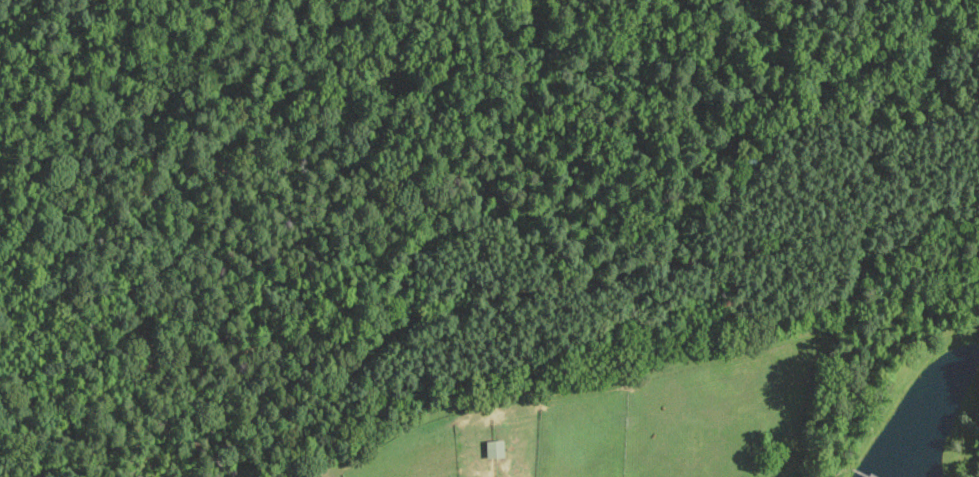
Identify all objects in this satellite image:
building: (493, 449)

